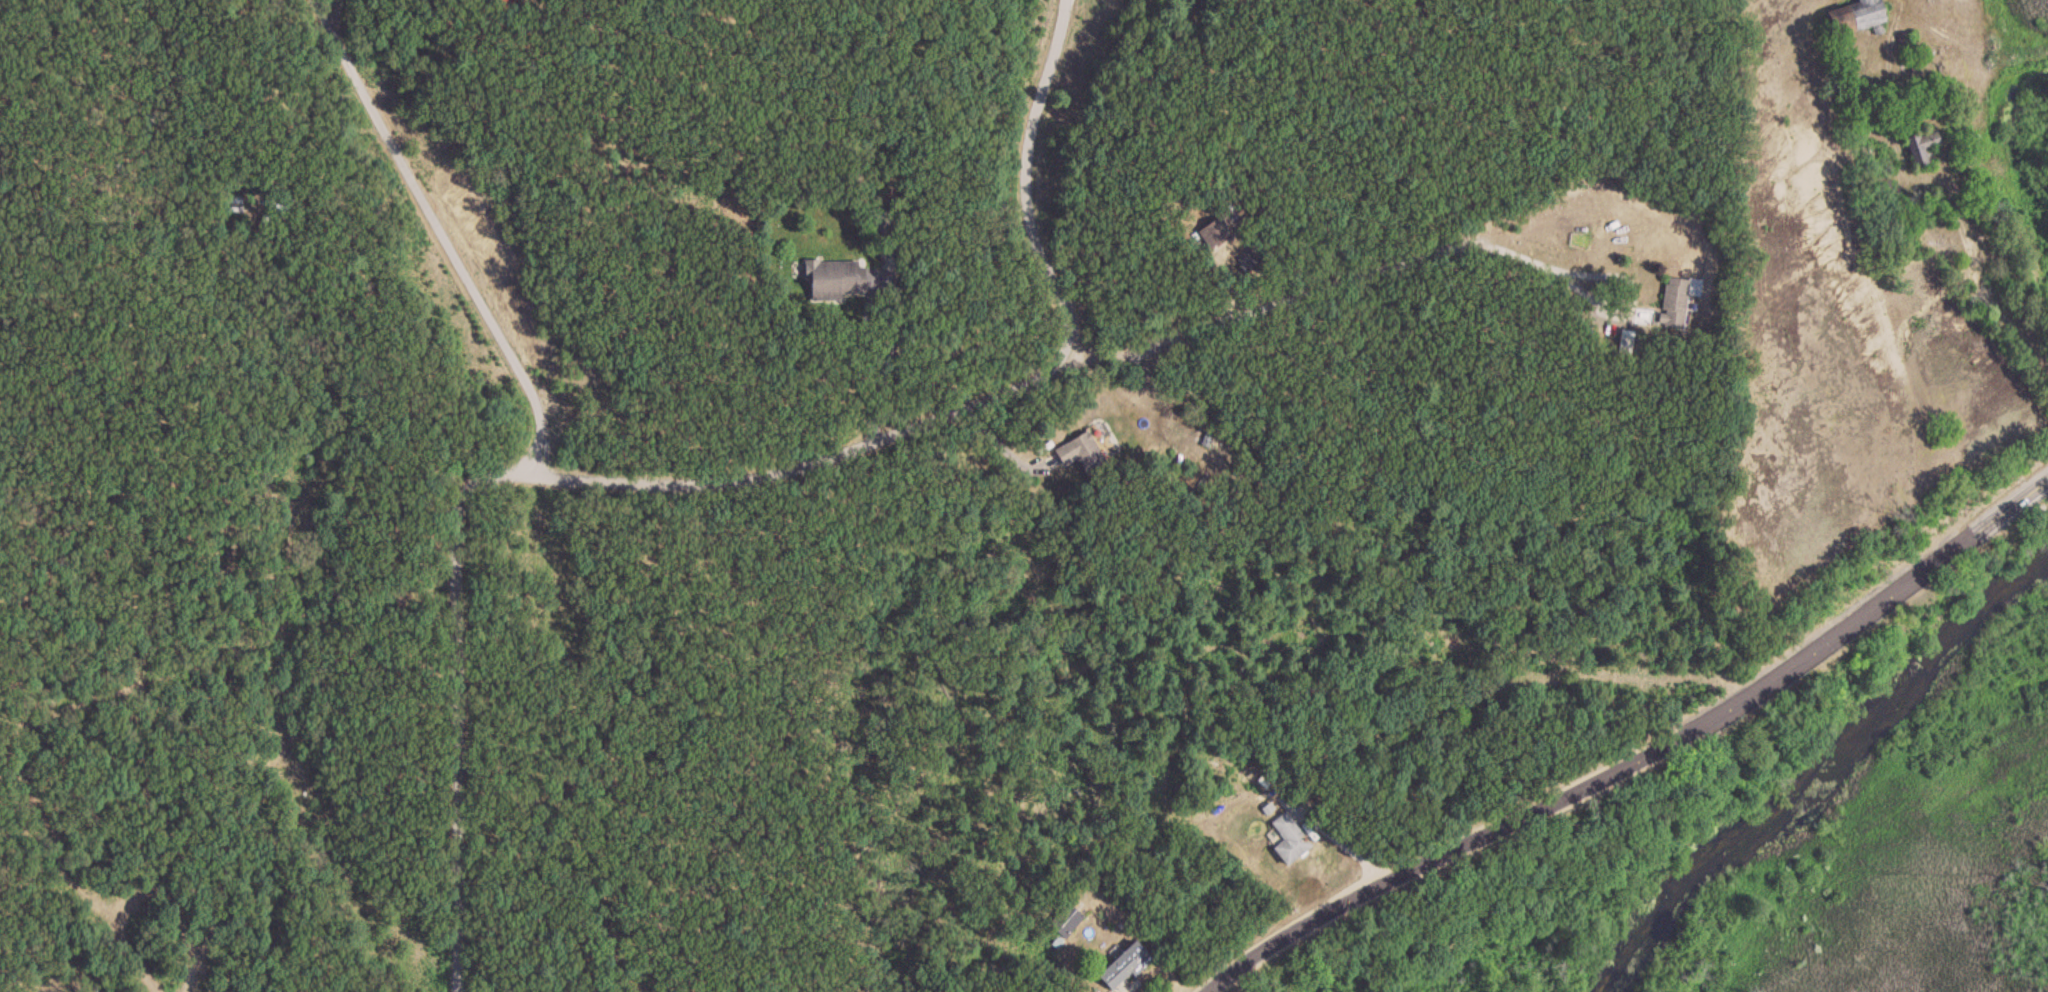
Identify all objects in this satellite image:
road: (332, 9)
building: (1852, 17)
building: (1919, 145)
road: (1920, 181)
building: (884, 223)
road: (446, 233)
road: (1352, 271)
building: (838, 280)
building: (1671, 302)
road: (868, 313)
road: (2012, 324)
road: (1001, 446)
building: (1078, 452)
road: (722, 486)
road: (1628, 763)
road: (1334, 837)
building: (1286, 839)
building: (1128, 965)
road: (644, 986)

